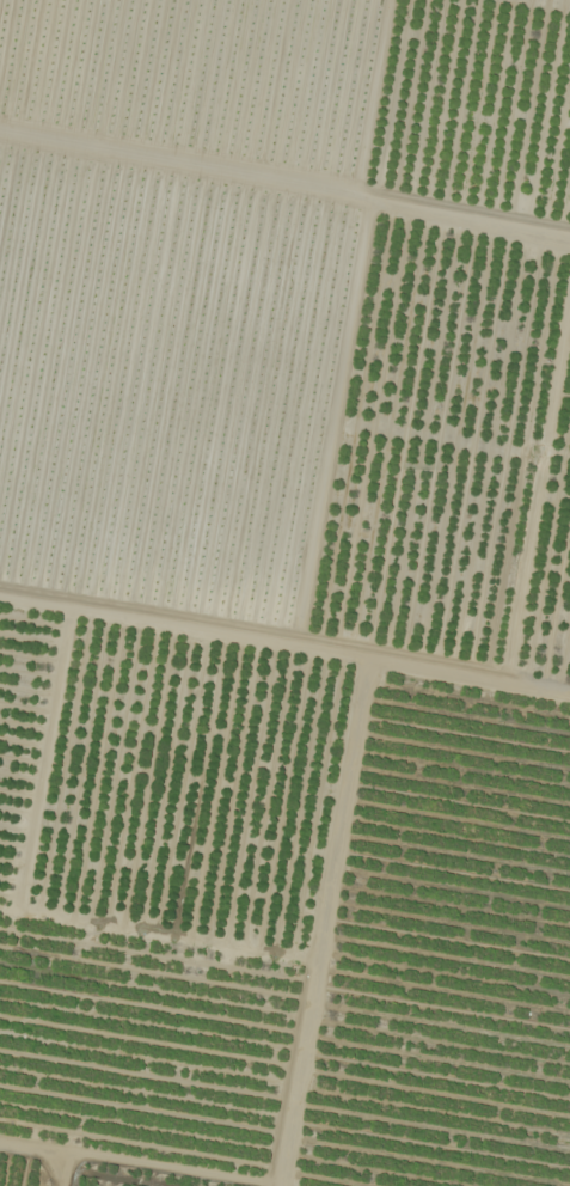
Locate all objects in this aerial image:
road: (284, 658)

